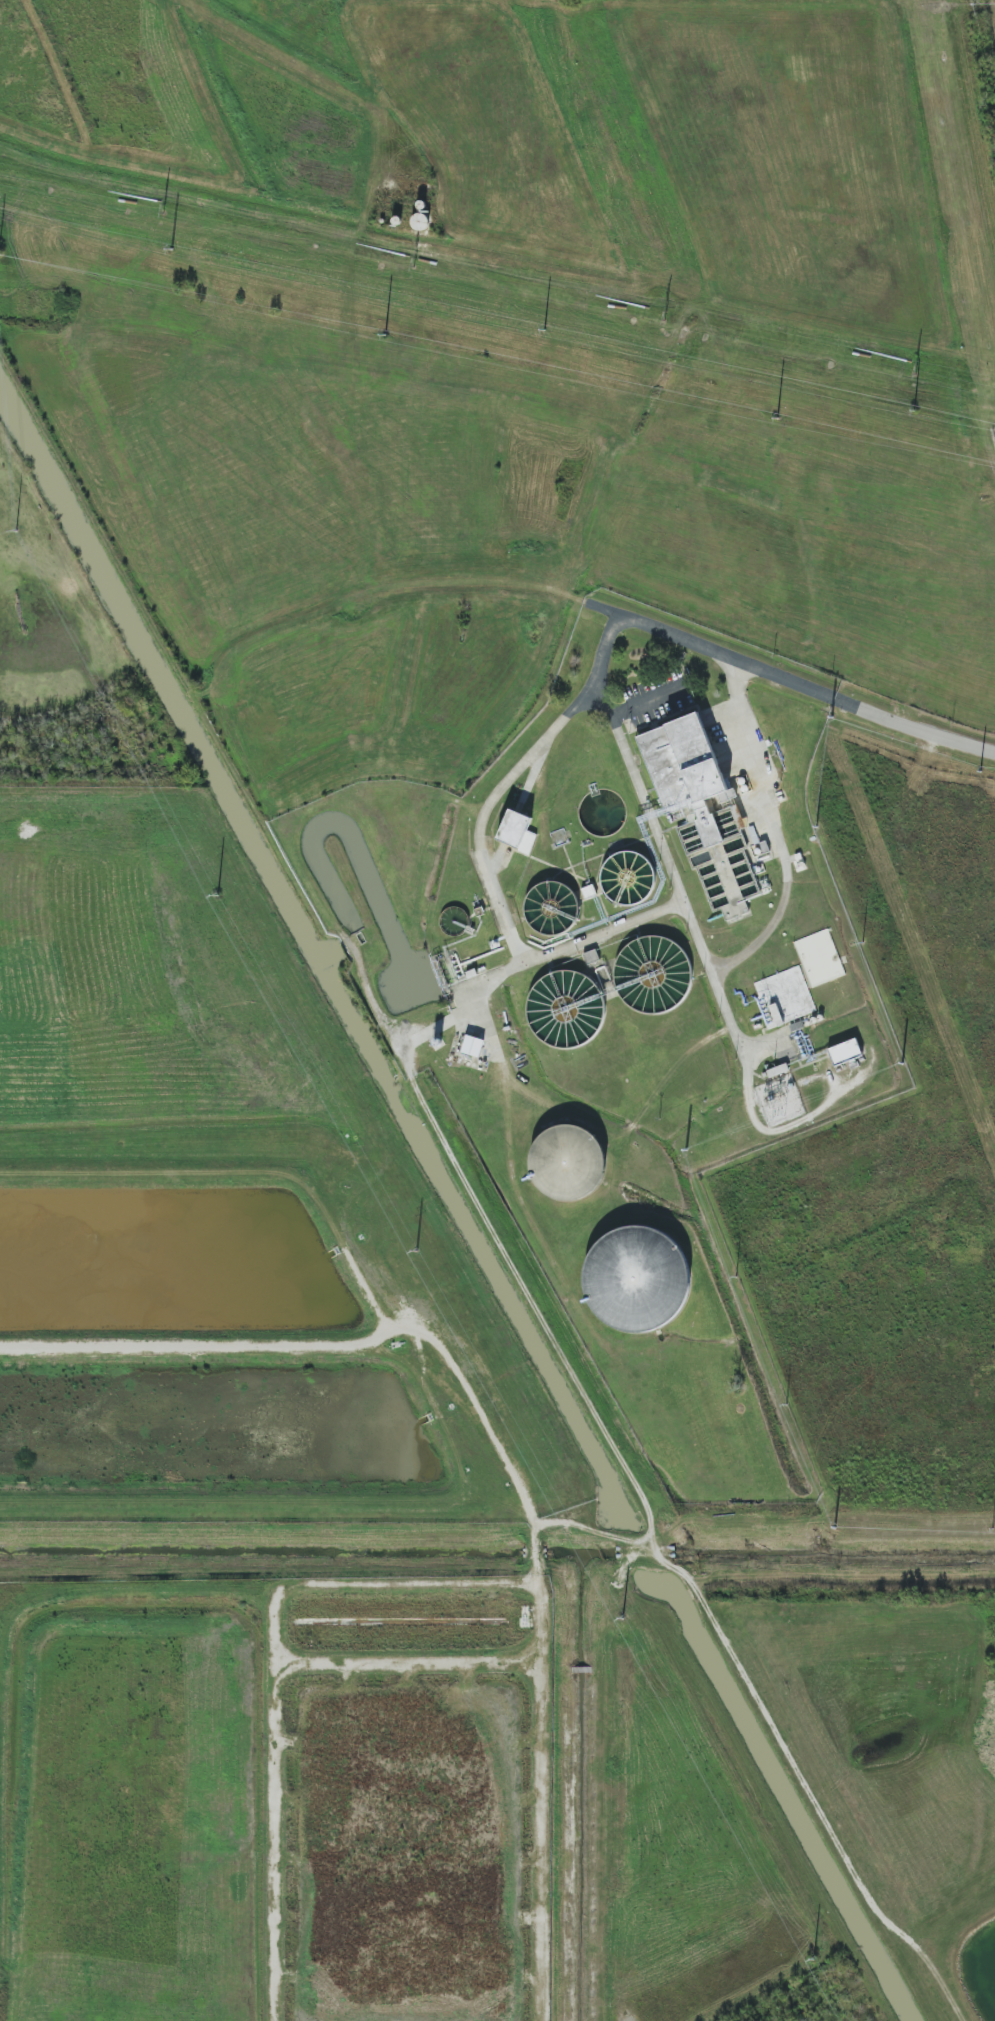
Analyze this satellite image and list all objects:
power tower: (164, 211)
power tower: (412, 264)
power tower: (664, 319)
power tower: (915, 371)
road: (597, 679)
road: (827, 697)
building: (685, 771)
road: (647, 808)
building: (517, 832)
road: (494, 888)
road: (784, 894)
road: (697, 936)
building: (784, 997)
building: (473, 1046)
building: (845, 1052)
power substation: (778, 1100)
building: (568, 1162)
building: (642, 1277)

